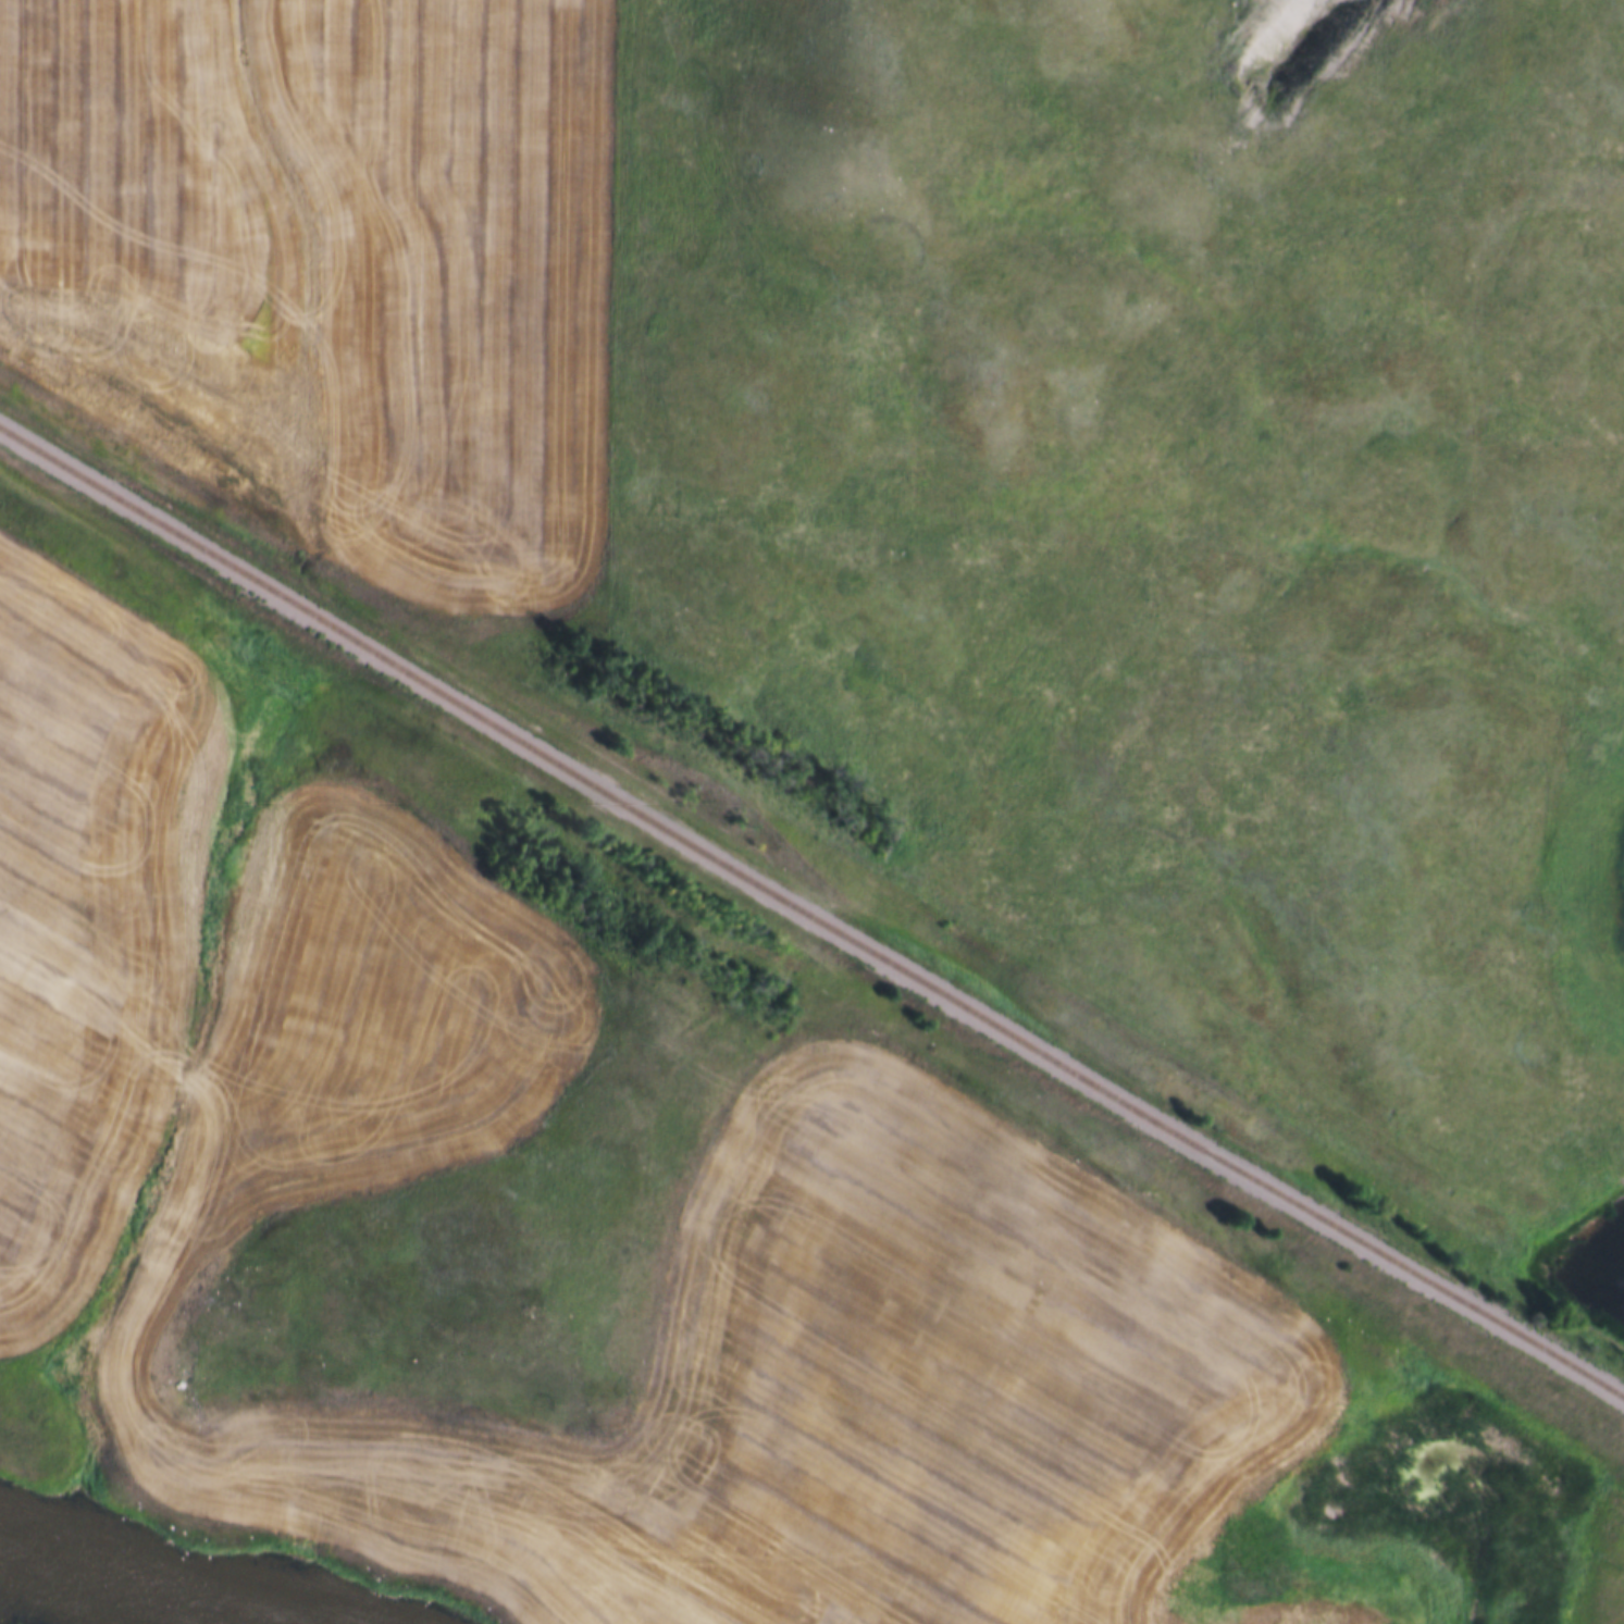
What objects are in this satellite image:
railway: (811, 921)
river: (162, 1582)

